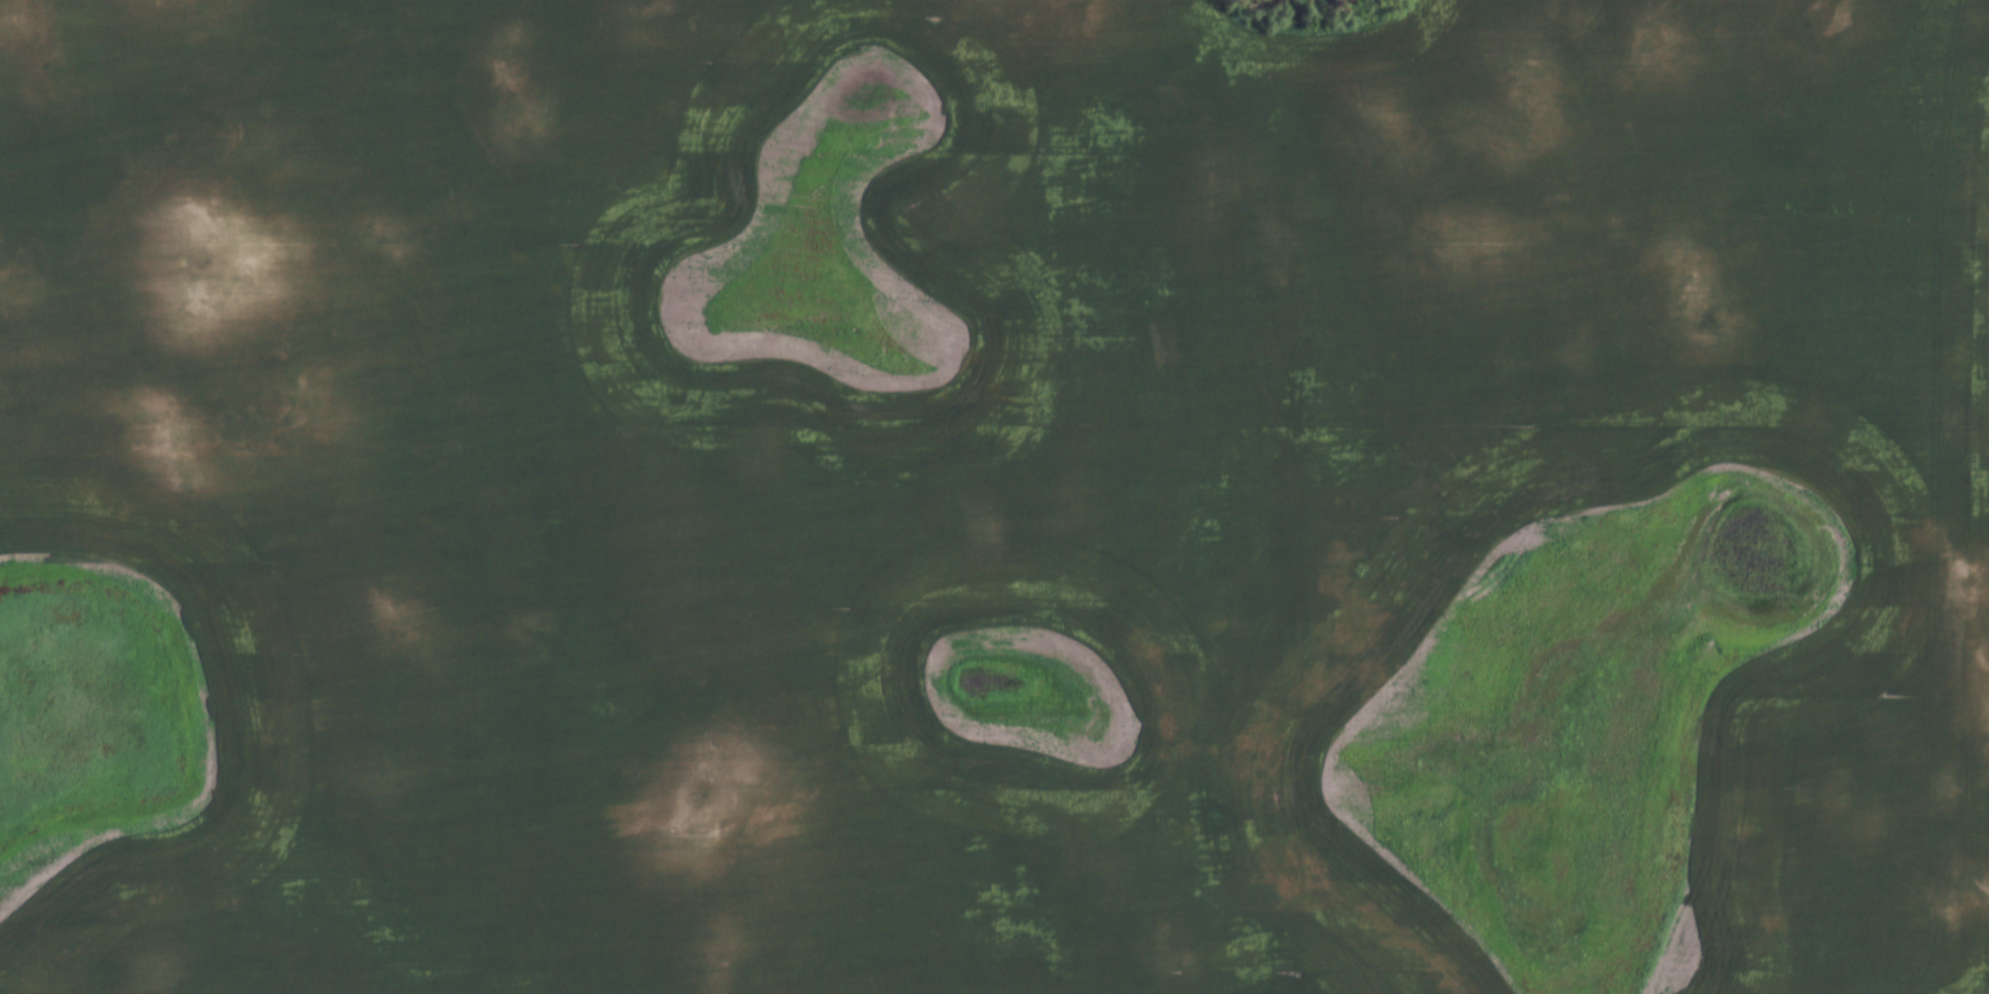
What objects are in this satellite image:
building: (1759, 9)

